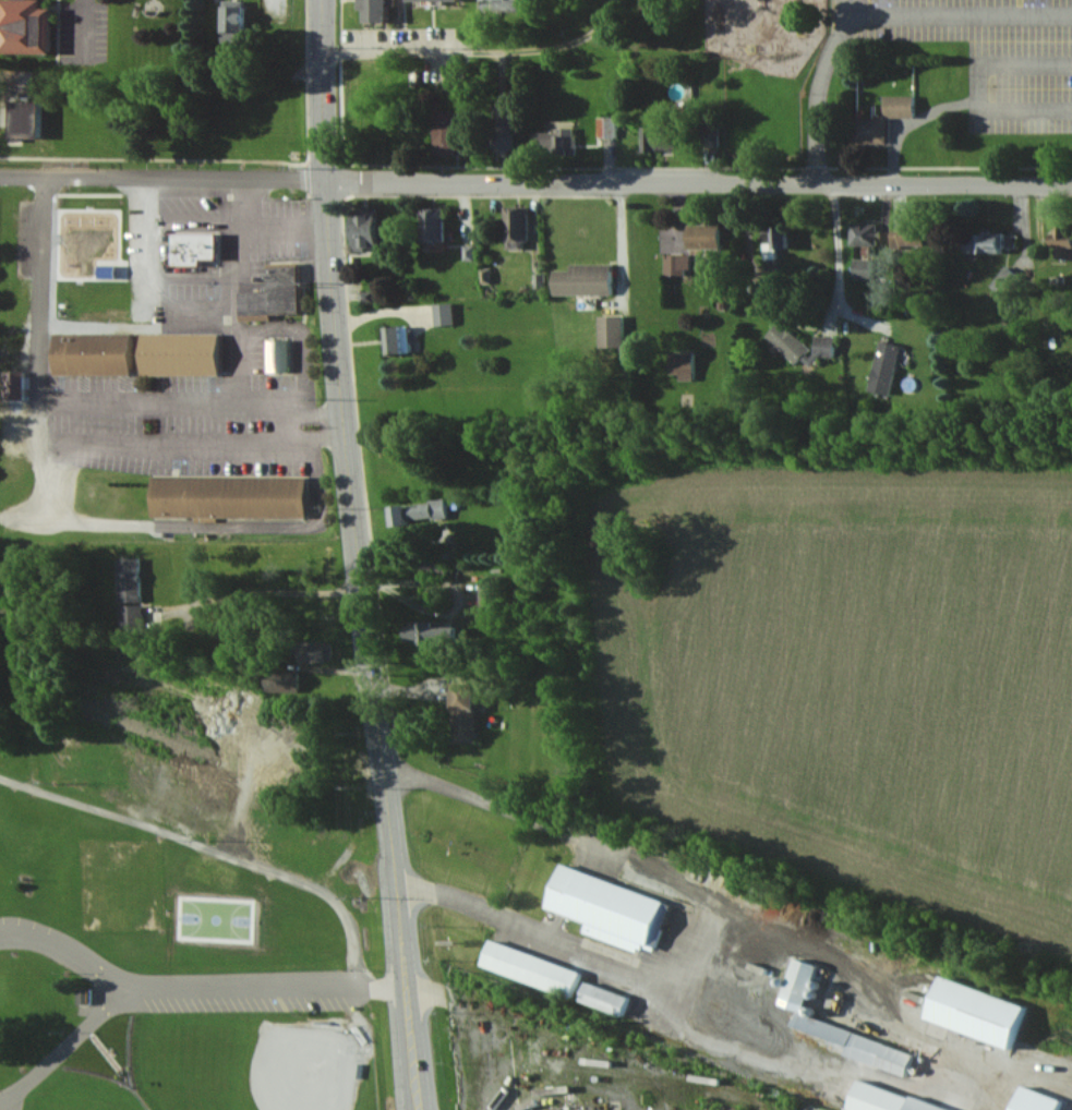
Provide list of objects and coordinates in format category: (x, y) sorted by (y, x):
building: (441, 0)
building: (384, 11)
road: (876, 14)
building: (233, 23)
building: (34, 26)
road: (94, 31)
road: (478, 50)
road: (20, 73)
building: (906, 106)
building: (875, 130)
building: (451, 132)
road: (161, 177)
road: (698, 182)
building: (437, 227)
road: (262, 229)
building: (373, 229)
building: (869, 234)
building: (915, 237)
building: (710, 238)
building: (1065, 241)
building: (1000, 242)
building: (200, 249)
road: (841, 252)
road: (623, 254)
building: (867, 268)
building: (589, 280)
road: (146, 285)
building: (278, 294)
building: (447, 315)
road: (41, 316)
road: (97, 323)
building: (614, 333)
building: (401, 340)
building: (830, 347)
building: (100, 354)
building: (188, 354)
building: (889, 367)
road: (236, 374)
road: (136, 401)
building: (234, 497)
road: (68, 521)
road: (358, 555)
building: (442, 567)
road: (269, 592)
building: (494, 595)
building: (470, 713)
road: (213, 848)
building: (617, 910)
road: (712, 919)
park: (214, 920)
road: (70, 955)
park: (184, 960)
building: (537, 969)
road: (183, 987)
building: (610, 999)
building: (785, 1015)
building: (996, 1016)
road: (568, 1084)
building: (890, 1100)

